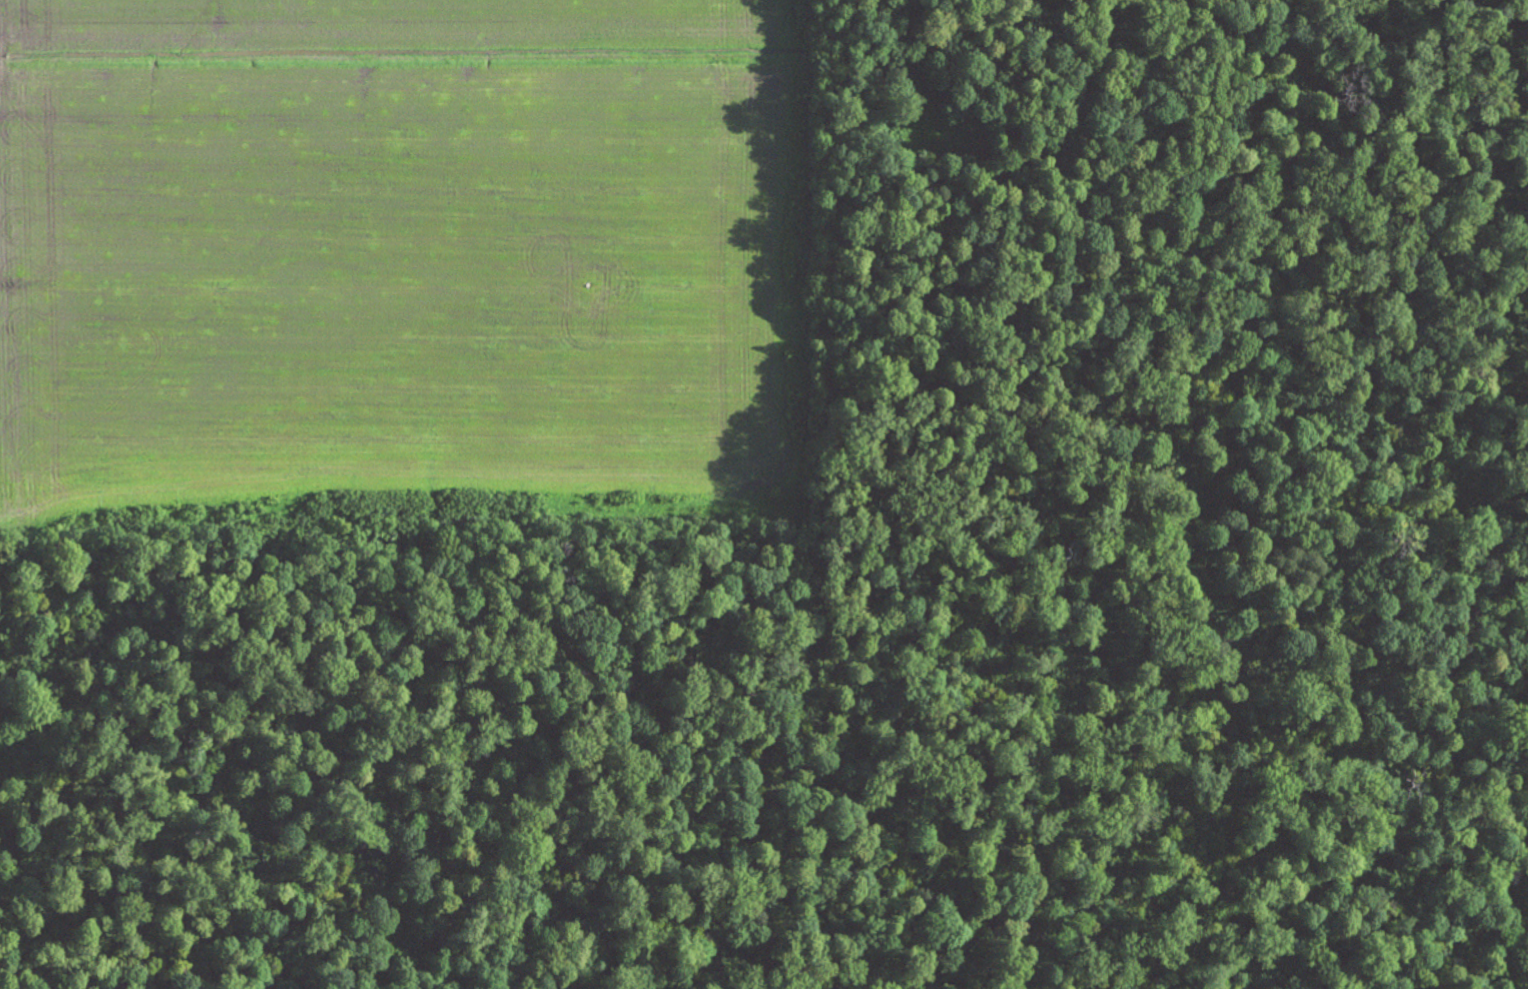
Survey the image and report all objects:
road: (25, 502)
park: (905, 586)

